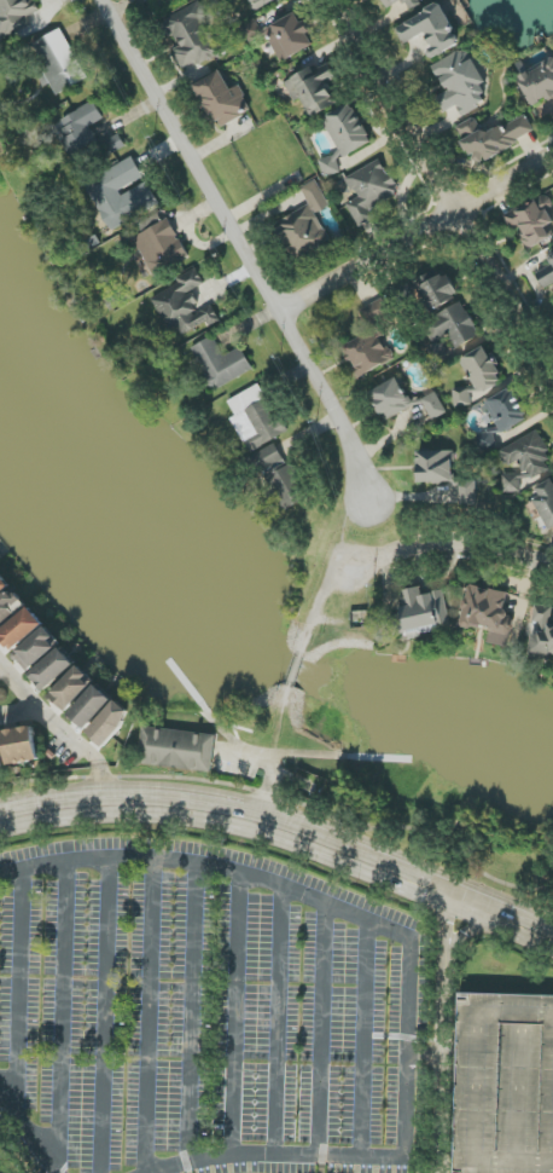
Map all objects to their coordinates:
building: (146, 0)
road: (57, 2)
building: (261, 2)
building: (391, 2)
building: (413, 4)
building: (16, 16)
building: (431, 30)
building: (191, 37)
building: (289, 37)
building: (57, 62)
building: (461, 83)
building: (539, 83)
building: (313, 89)
building: (222, 99)
building: (81, 129)
building: (344, 137)
building: (493, 137)
building: (113, 144)
building: (369, 191)
road: (443, 191)
building: (121, 193)
building: (532, 221)
building: (305, 224)
road: (415, 233)
building: (161, 247)
road: (243, 250)
building: (547, 276)
building: (437, 291)
building: (184, 306)
building: (453, 325)
building: (372, 341)
building: (437, 353)
building: (221, 363)
building: (478, 375)
building: (391, 399)
building: (435, 406)
building: (507, 410)
building: (256, 418)
building: (487, 439)
building: (525, 461)
building: (435, 467)
building: (280, 478)
building: (467, 492)
road: (447, 542)
building: (4, 584)
road: (319, 600)
building: (10, 606)
building: (423, 608)
building: (487, 613)
building: (22, 629)
building: (542, 634)
building: (37, 648)
road: (297, 665)
road: (0, 668)
building: (53, 669)
building: (72, 688)
building: (92, 706)
road: (19, 715)
building: (111, 723)
road: (59, 730)
building: (22, 745)
building: (177, 750)
road: (245, 753)
building: (1, 759)
road: (267, 787)
road: (284, 826)
road: (283, 846)
road: (452, 902)
road: (411, 961)
parking lot: (213, 995)
road: (441, 1041)
parking lot: (496, 1082)
building: (505, 1084)
road: (30, 1132)

